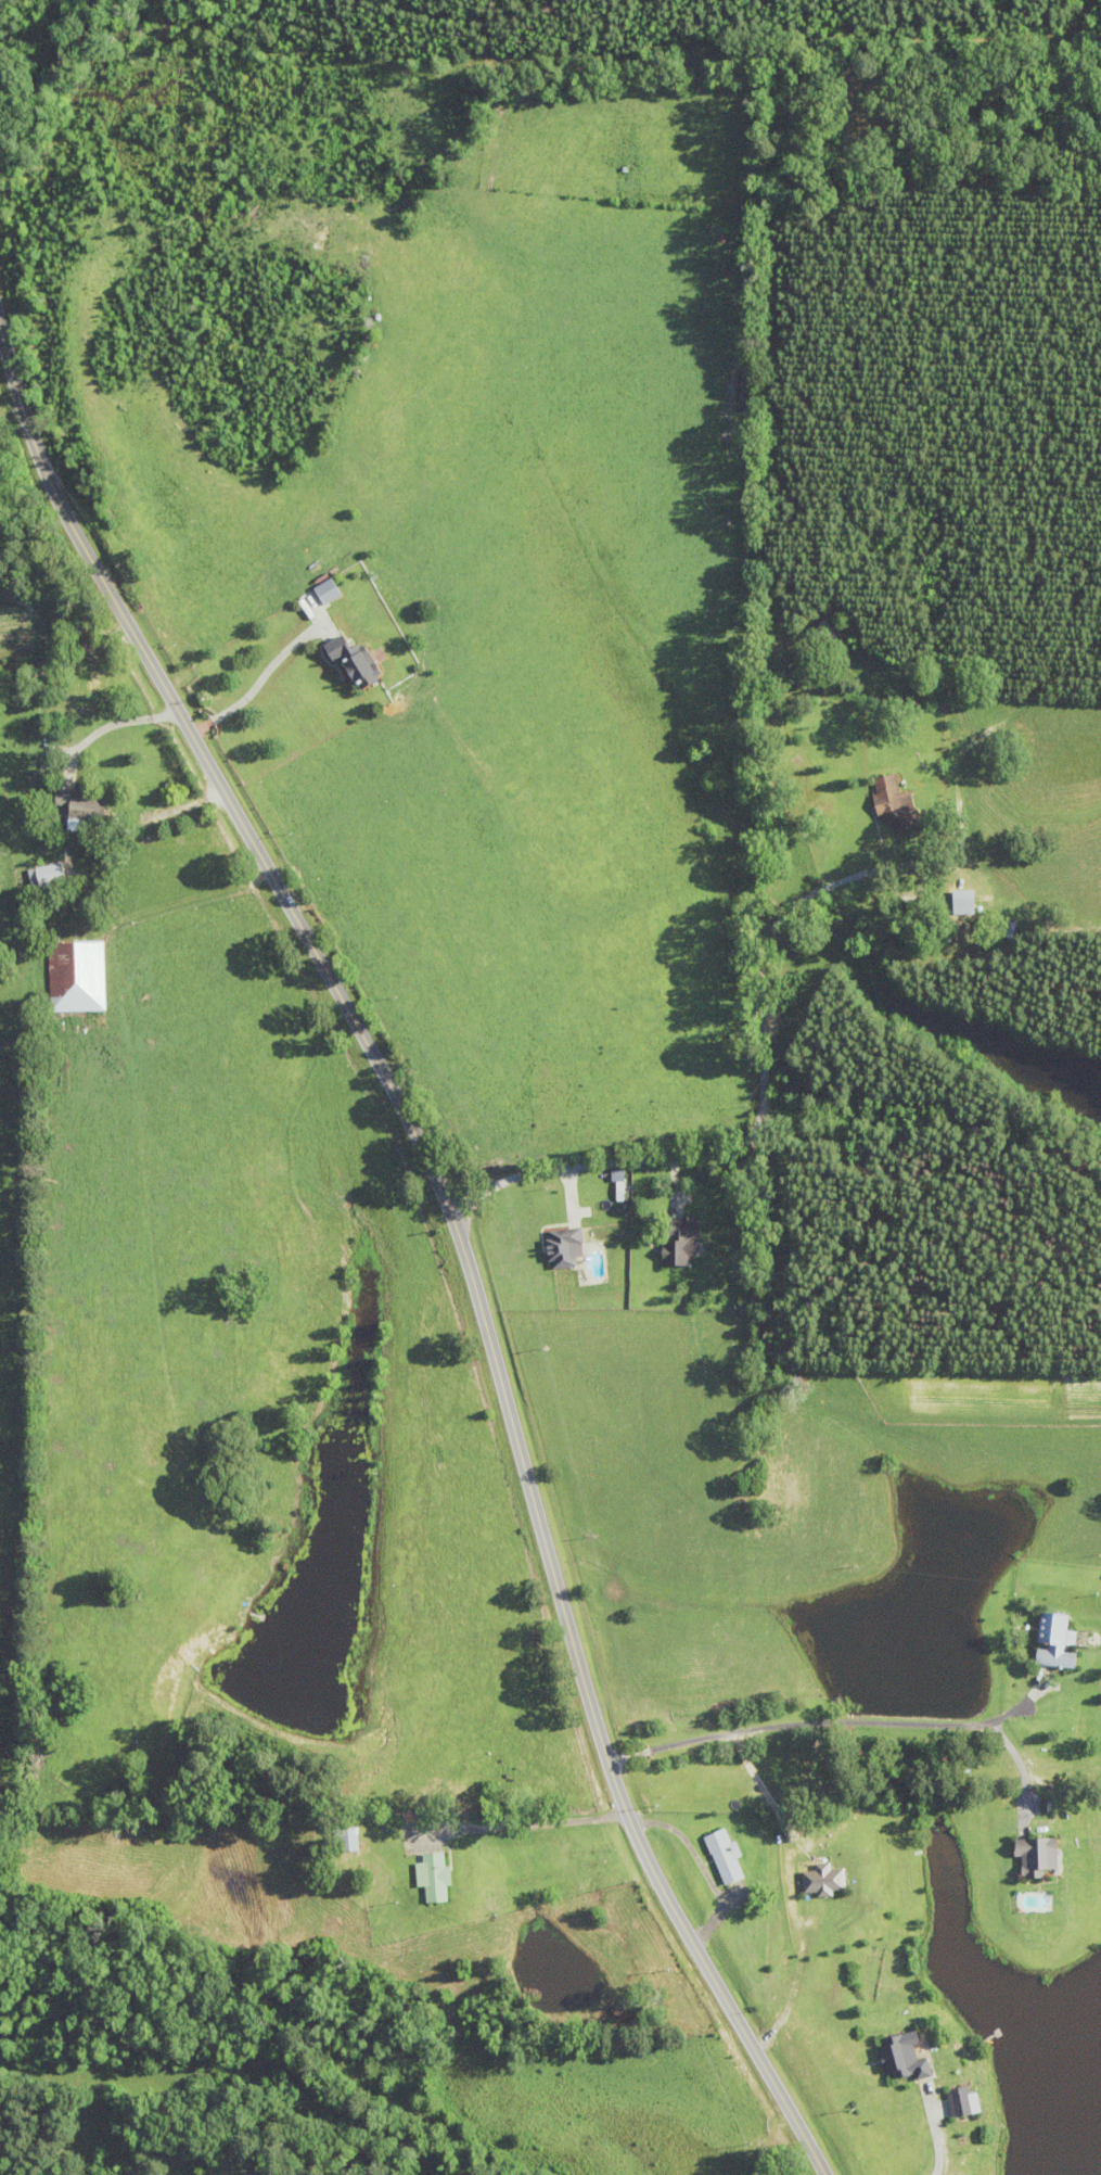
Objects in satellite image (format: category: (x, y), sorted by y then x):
building: (825, 635)
building: (355, 659)
building: (92, 688)
building: (896, 802)
building: (84, 812)
building: (48, 875)
building: (965, 902)
building: (78, 976)
road: (753, 1130)
road: (457, 1230)
building: (683, 1239)
road: (757, 1491)
building: (1057, 1642)
building: (349, 1837)
building: (1039, 1855)
building: (727, 1856)
building: (436, 1877)
road: (912, 1924)
building: (906, 2057)
building: (966, 2101)

